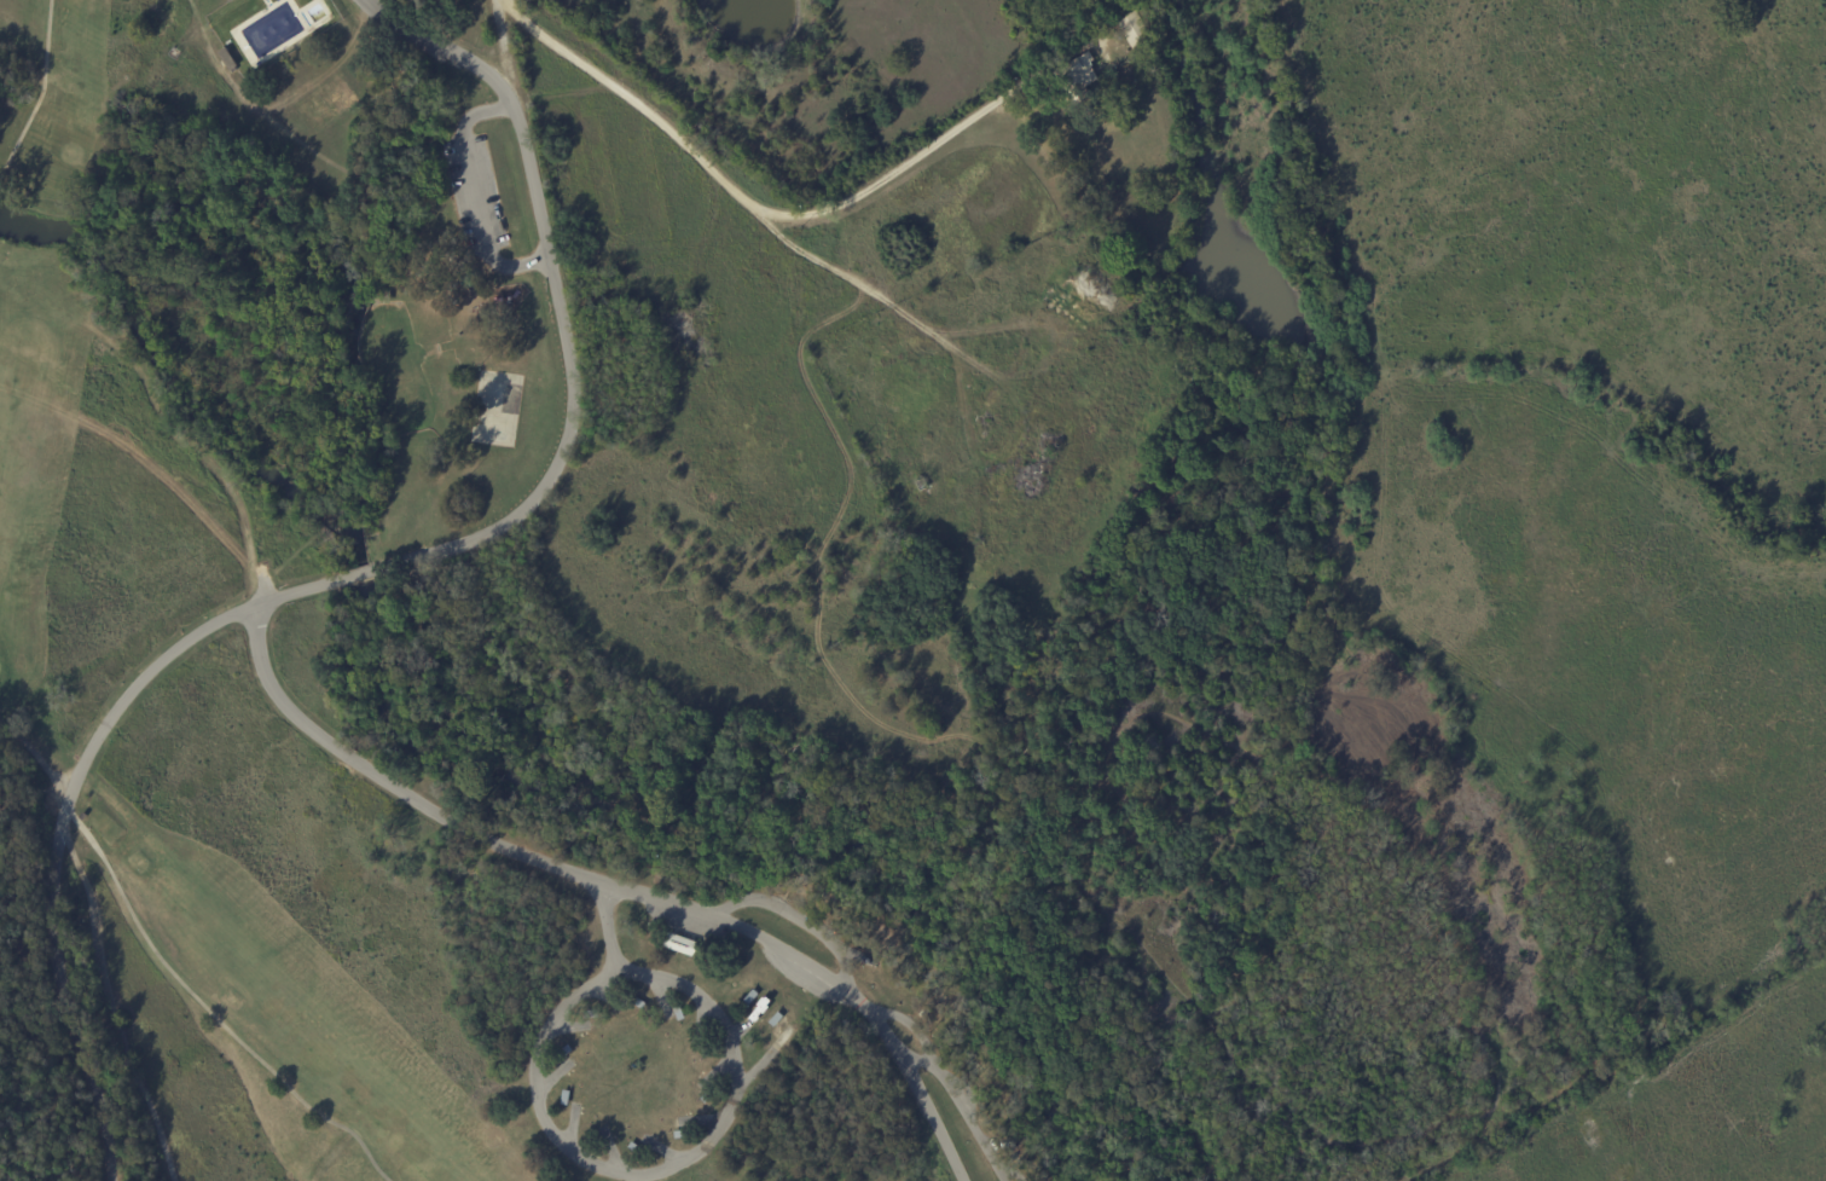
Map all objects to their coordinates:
building: (1134, 28)
road: (514, 60)
road: (644, 99)
road: (922, 150)
road: (474, 195)
road: (366, 571)
park: (648, 649)
road: (560, 870)
road: (748, 901)
road: (918, 1093)
road: (961, 1106)
road: (694, 1156)

